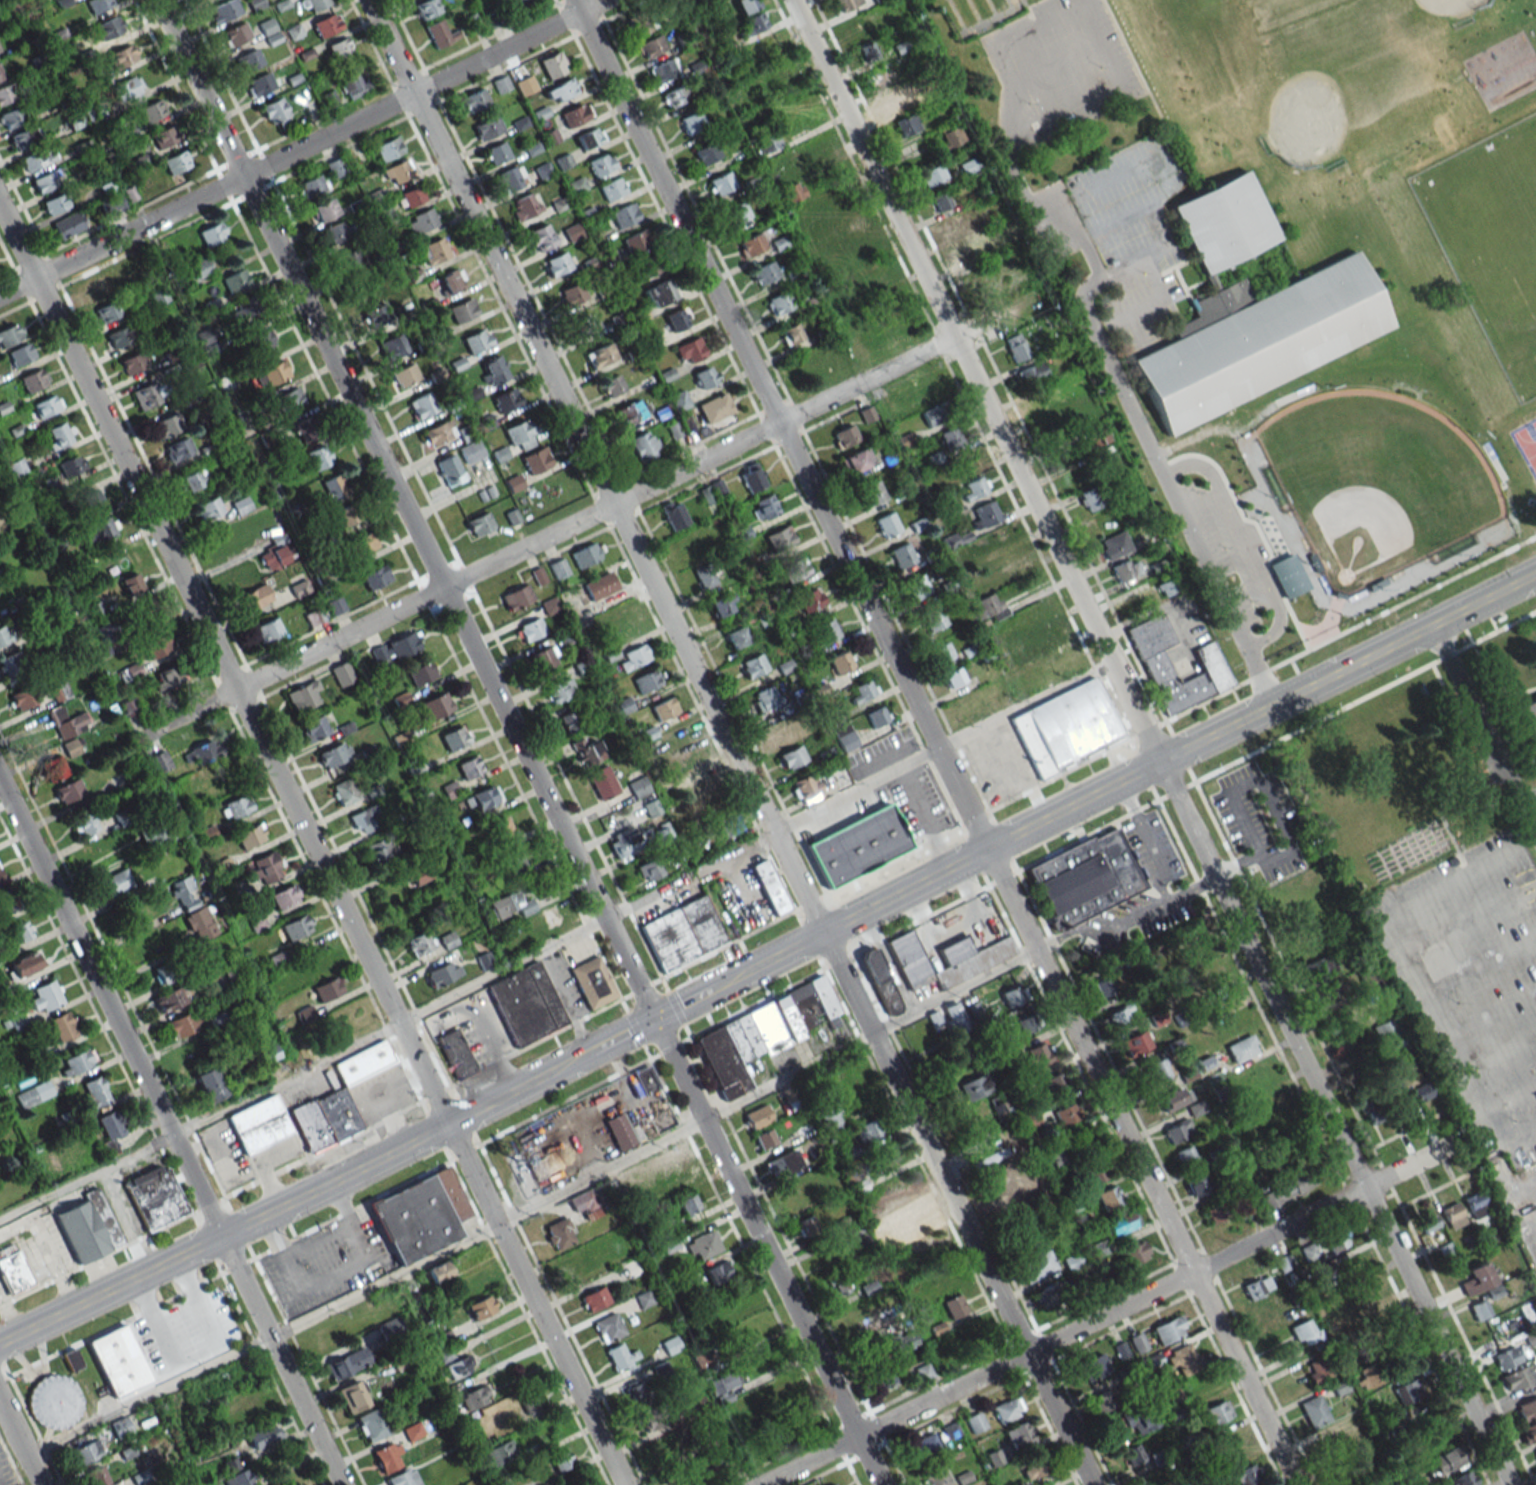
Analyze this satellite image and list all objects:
building: (516, 2)
building: (692, 2)
building: (312, 4)
building: (847, 4)
building: (98, 5)
building: (745, 5)
building: (427, 8)
building: (223, 11)
building: (638, 22)
building: (754, 23)
building: (325, 25)
building: (859, 26)
building: (109, 28)
building: (439, 33)
building: (235, 34)
building: (650, 46)
building: (339, 49)
building: (868, 51)
building: (122, 56)
building: (249, 60)
building: (553, 64)
building: (662, 70)
building: (880, 76)
building: (262, 83)
building: (352, 83)
building: (4, 88)
building: (560, 90)
building: (128, 91)
building: (740, 94)
building: (675, 96)
building: (473, 101)
building: (893, 101)
building: (152, 110)
building: (575, 114)
building: (12, 117)
building: (692, 122)
building: (907, 125)
building: (487, 128)
building: (951, 136)
building: (589, 137)
building: (161, 138)
building: (23, 139)
building: (767, 142)
road: (302, 147)
building: (388, 147)
building: (496, 152)
building: (706, 153)
building: (36, 158)
building: (176, 162)
building: (601, 164)
building: (335, 167)
building: (780, 168)
building: (397, 171)
building: (932, 174)
building: (511, 178)
building: (46, 181)
building: (721, 183)
building: (575, 185)
building: (310, 187)
building: (611, 188)
building: (791, 193)
building: (410, 197)
building: (941, 200)
building: (55, 204)
building: (523, 206)
building: (323, 209)
building: (738, 212)
road: (1071, 214)
building: (624, 215)
building: (803, 217)
building: (421, 221)
building: (67, 225)
building: (1224, 225)
building: (953, 226)
building: (333, 232)
building: (572, 232)
building: (212, 234)
building: (540, 238)
building: (637, 241)
building: (779, 242)
building: (751, 245)
building: (965, 250)
building: (434, 251)
building: (350, 259)
building: (557, 263)
building: (647, 266)
building: (198, 269)
building: (764, 273)
park: (1282, 275)
building: (235, 280)
building: (451, 281)
building: (97, 289)
building: (659, 293)
building: (572, 294)
building: (843, 295)
building: (779, 303)
building: (243, 310)
building: (462, 310)
building: (107, 312)
building: (377, 315)
building: (677, 319)
building: (586, 324)
building: (9, 334)
building: (790, 334)
building: (117, 337)
building: (261, 338)
building: (1255, 339)
building: (476, 340)
building: (393, 346)
building: (1016, 347)
building: (690, 350)
building: (20, 354)
building: (600, 355)
building: (134, 362)
building: (808, 362)
building: (494, 370)
building: (1032, 373)
building: (1075, 373)
building: (271, 374)
building: (404, 374)
building: (705, 376)
building: (33, 380)
building: (612, 385)
building: (146, 395)
building: (290, 398)
building: (506, 400)
building: (679, 400)
building: (421, 405)
building: (45, 406)
building: (715, 407)
building: (631, 412)
building: (1085, 412)
building: (935, 414)
road: (570, 415)
park: (1532, 421)
building: (167, 425)
building: (303, 428)
building: (438, 433)
building: (519, 435)
building: (845, 436)
building: (1099, 436)
building: (952, 439)
building: (643, 446)
building: (1074, 447)
building: (179, 449)
building: (471, 451)
building: (318, 457)
road: (380, 458)
building: (536, 460)
building: (857, 460)
building: (70, 465)
building: (15, 467)
building: (449, 470)
building: (752, 477)
park: (1376, 478)
building: (192, 479)
building: (334, 487)
building: (974, 488)
building: (873, 493)
building: (91, 499)
building: (1089, 499)
building: (764, 506)
building: (208, 508)
building: (673, 514)
building: (986, 514)
building: (346, 515)
building: (479, 524)
building: (887, 525)
building: (9, 526)
building: (98, 532)
road: (555, 532)
building: (780, 538)
road: (1245, 542)
building: (363, 543)
building: (1113, 545)
building: (587, 554)
building: (902, 555)
building: (273, 557)
building: (558, 567)
building: (795, 569)
building: (1126, 569)
building: (1286, 574)
building: (375, 577)
building: (705, 577)
building: (131, 584)
building: (600, 585)
building: (1168, 585)
building: (917, 586)
building: (299, 588)
building: (254, 597)
building: (516, 597)
building: (810, 599)
building: (723, 604)
building: (335, 605)
building: (100, 606)
building: (990, 606)
building: (933, 619)
building: (622, 624)
building: (530, 629)
building: (268, 630)
building: (827, 630)
building: (107, 631)
building: (4, 634)
building: (736, 637)
building: (1050, 638)
building: (157, 646)
building: (395, 648)
building: (942, 651)
building: (635, 656)
building: (543, 659)
building: (1153, 660)
building: (840, 662)
building: (753, 665)
building: (11, 667)
building: (130, 671)
building: (341, 673)
building: (420, 673)
building: (954, 677)
building: (167, 678)
building: (647, 681)
building: (559, 690)
building: (862, 690)
building: (59, 691)
building: (23, 696)
building: (304, 696)
building: (766, 698)
building: (130, 706)
building: (433, 707)
building: (664, 708)
building: (877, 716)
building: (570, 720)
building: (66, 721)
building: (1529, 726)
building: (313, 728)
building: (1066, 728)
road: (1485, 728)
building: (777, 733)
building: (454, 738)
building: (845, 738)
road: (935, 742)
road: (1150, 743)
road: (942, 746)
building: (71, 747)
building: (203, 751)
building: (587, 751)
building: (333, 754)
building: (791, 757)
building: (674, 758)
building: (159, 761)
building: (469, 766)
building: (52, 768)
building: (840, 776)
building: (697, 777)
road: (1126, 778)
building: (603, 782)
building: (638, 786)
building: (807, 788)
building: (68, 790)
building: (344, 791)
parking lot: (1534, 791)
road: (1528, 796)
building: (485, 797)
road: (917, 803)
building: (235, 807)
building: (652, 808)
building: (683, 810)
building: (364, 819)
building: (84, 823)
building: (731, 825)
building: (500, 830)
building: (662, 831)
building: (250, 836)
building: (623, 840)
building: (860, 843)
road: (312, 848)
building: (378, 848)
road: (943, 853)
building: (266, 868)
building: (649, 869)
building: (419, 872)
road: (689, 874)
building: (1, 877)
building: (1086, 878)
building: (115, 882)
building: (769, 887)
road: (1192, 889)
building: (284, 896)
building: (438, 901)
building: (5, 903)
road: (1161, 904)
building: (511, 905)
building: (199, 924)
building: (296, 927)
building: (20, 931)
building: (682, 933)
building: (419, 943)
building: (318, 959)
building: (945, 959)
building: (23, 965)
building: (1323, 965)
road: (629, 968)
road: (501, 969)
building: (234, 973)
building: (442, 973)
building: (1364, 973)
building: (881, 981)
parking lot: (1472, 981)
building: (592, 982)
building: (1103, 986)
building: (328, 988)
road: (954, 992)
building: (45, 996)
building: (1012, 996)
building: (171, 998)
road: (686, 1003)
building: (526, 1004)
building: (1374, 1008)
building: (306, 1016)
building: (1121, 1016)
building: (954, 1017)
traffic signals: (654, 1019)
building: (1026, 1021)
building: (183, 1024)
building: (62, 1026)
building: (761, 1033)
road: (623, 1034)
building: (1389, 1034)
building: (1137, 1043)
building: (1242, 1048)
building: (455, 1053)
building: (269, 1054)
building: (1038, 1054)
building: (77, 1061)
building: (1158, 1069)
building: (645, 1079)
building: (1055, 1082)
building: (209, 1084)
building: (975, 1086)
building: (94, 1091)
building: (1227, 1092)
building: (1421, 1092)
building: (33, 1094)
building: (1175, 1098)
building: (338, 1100)
building: (1396, 1103)
building: (1371, 1108)
building: (1001, 1110)
building: (1067, 1113)
building: (757, 1117)
road: (198, 1119)
building: (830, 1119)
building: (1031, 1119)
building: (259, 1124)
building: (619, 1131)
building: (867, 1131)
building: (1178, 1131)
building: (109, 1132)
road: (170, 1132)
building: (764, 1139)
building: (1185, 1156)
road: (932, 1158)
building: (667, 1159)
building: (782, 1163)
building: (1059, 1163)
building: (1095, 1171)
building: (678, 1180)
building: (1198, 1185)
building: (1287, 1188)
parking lot: (1523, 1196)
building: (155, 1197)
building: (1111, 1197)
road: (297, 1198)
building: (794, 1198)
building: (588, 1202)
building: (689, 1204)
building: (1015, 1204)
building: (1477, 1207)
building: (1216, 1213)
building: (420, 1215)
building: (1452, 1215)
building: (909, 1218)
road: (124, 1219)
building: (1428, 1223)
building: (844, 1224)
building: (88, 1227)
building: (810, 1229)
building: (1114, 1232)
building: (559, 1233)
building: (1060, 1233)
building: (1336, 1237)
building: (886, 1242)
building: (861, 1244)
building: (703, 1245)
road: (451, 1246)
building: (925, 1250)
building: (1308, 1250)
road: (767, 1252)
building: (1134, 1253)
building: (1071, 1260)
building: (1037, 1266)
building: (13, 1269)
building: (438, 1271)
building: (718, 1272)
building: (937, 1276)
building: (1476, 1279)
building: (838, 1284)
building: (1257, 1286)
building: (1046, 1297)
building: (595, 1298)
building: (1336, 1305)
building: (954, 1306)
building: (481, 1307)
building: (1479, 1309)
road: (1108, 1313)
building: (608, 1327)
building: (390, 1328)
building: (1169, 1329)
building: (1301, 1330)
building: (973, 1335)
building: (903, 1341)
building: (1138, 1342)
building: (671, 1344)
building: (618, 1356)
building: (1506, 1357)
building: (71, 1360)
building: (118, 1360)
building: (1152, 1360)
building: (1181, 1360)
building: (347, 1363)
building: (459, 1366)
building: (1093, 1367)
building: (1318, 1370)
building: (924, 1371)
building: (883, 1376)
building: (1518, 1377)
building: (724, 1385)
building: (1408, 1391)
building: (632, 1392)
building: (353, 1396)
building: (474, 1397)
building: (54, 1400)
building: (1101, 1401)
building: (532, 1403)
building: (1527, 1409)
building: (1007, 1410)
building: (1314, 1411)
building: (1218, 1412)
building: (1140, 1418)
building: (737, 1419)
building: (649, 1421)
building: (976, 1422)
building: (373, 1424)
building: (118, 1427)
building: (950, 1430)
building: (412, 1431)
building: (1528, 1433)
building: (1019, 1435)
building: (263, 1436)
road: (22, 1439)
building: (1232, 1442)
building: (924, 1445)
building: (1329, 1446)
building: (1371, 1448)
building: (87, 1452)
building: (500, 1453)
building: (1535, 1453)
building: (1133, 1455)
building: (387, 1456)
building: (705, 1459)
building: (560, 1460)
building: (1445, 1460)
building: (1032, 1468)
building: (235, 1472)
building: (1246, 1474)
building: (936, 1475)
building: (96, 1476)
building: (403, 1478)
building: (1461, 1479)
building: (298, 1484)
building: (834, 1484)

